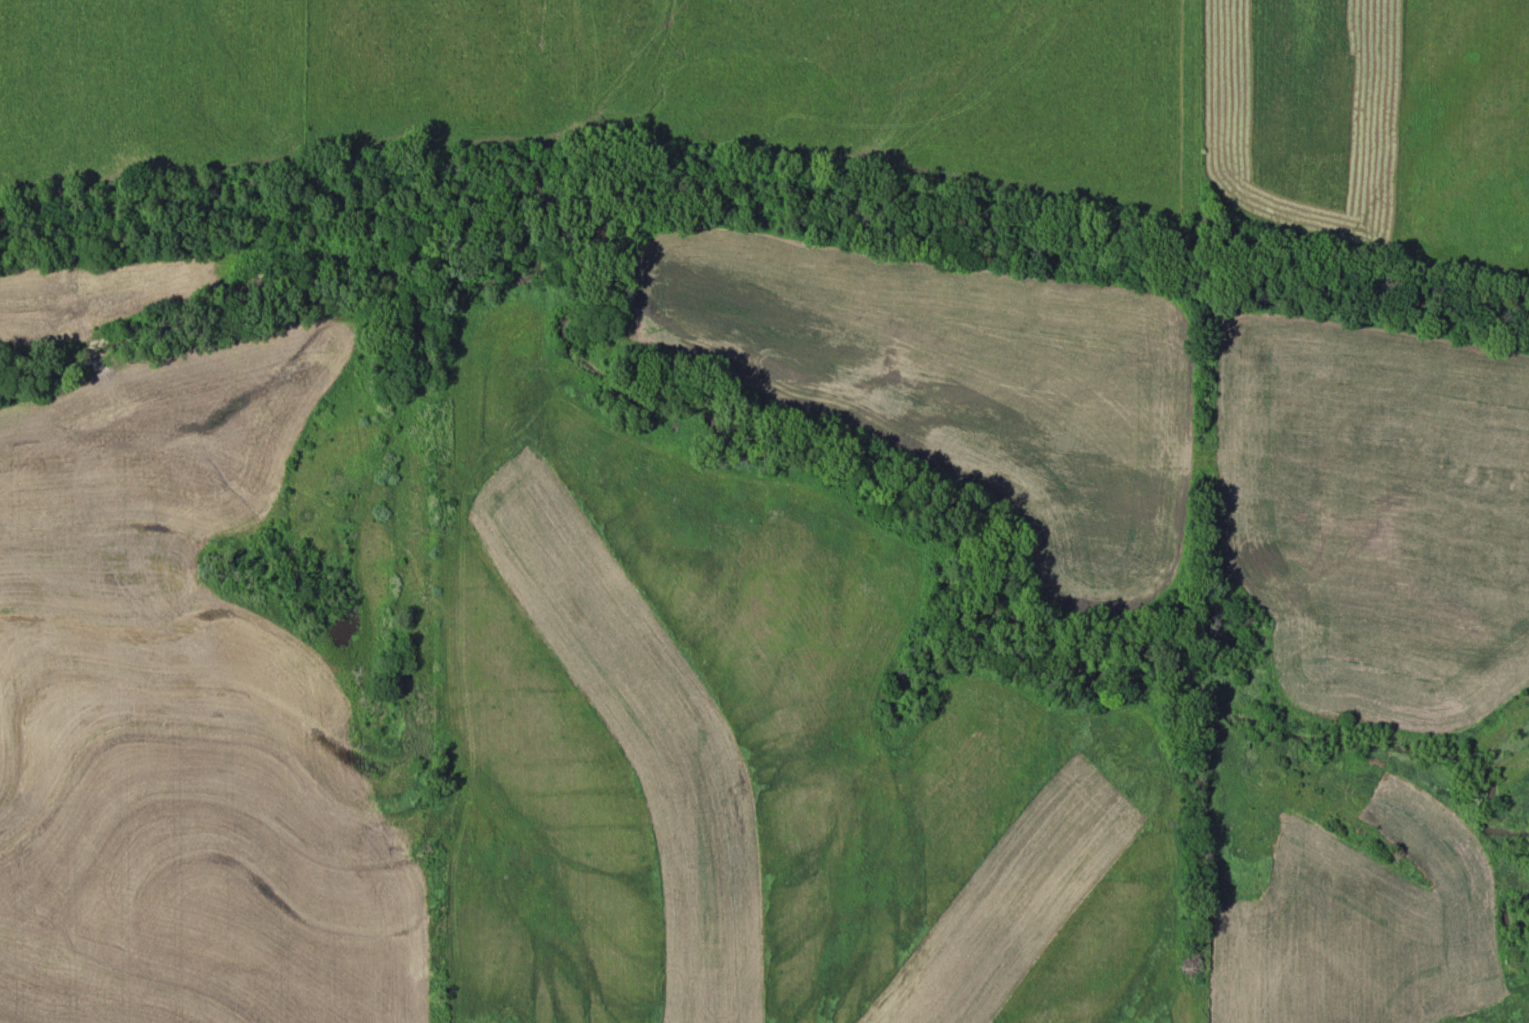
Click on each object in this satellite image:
crop: (1304, 117)

